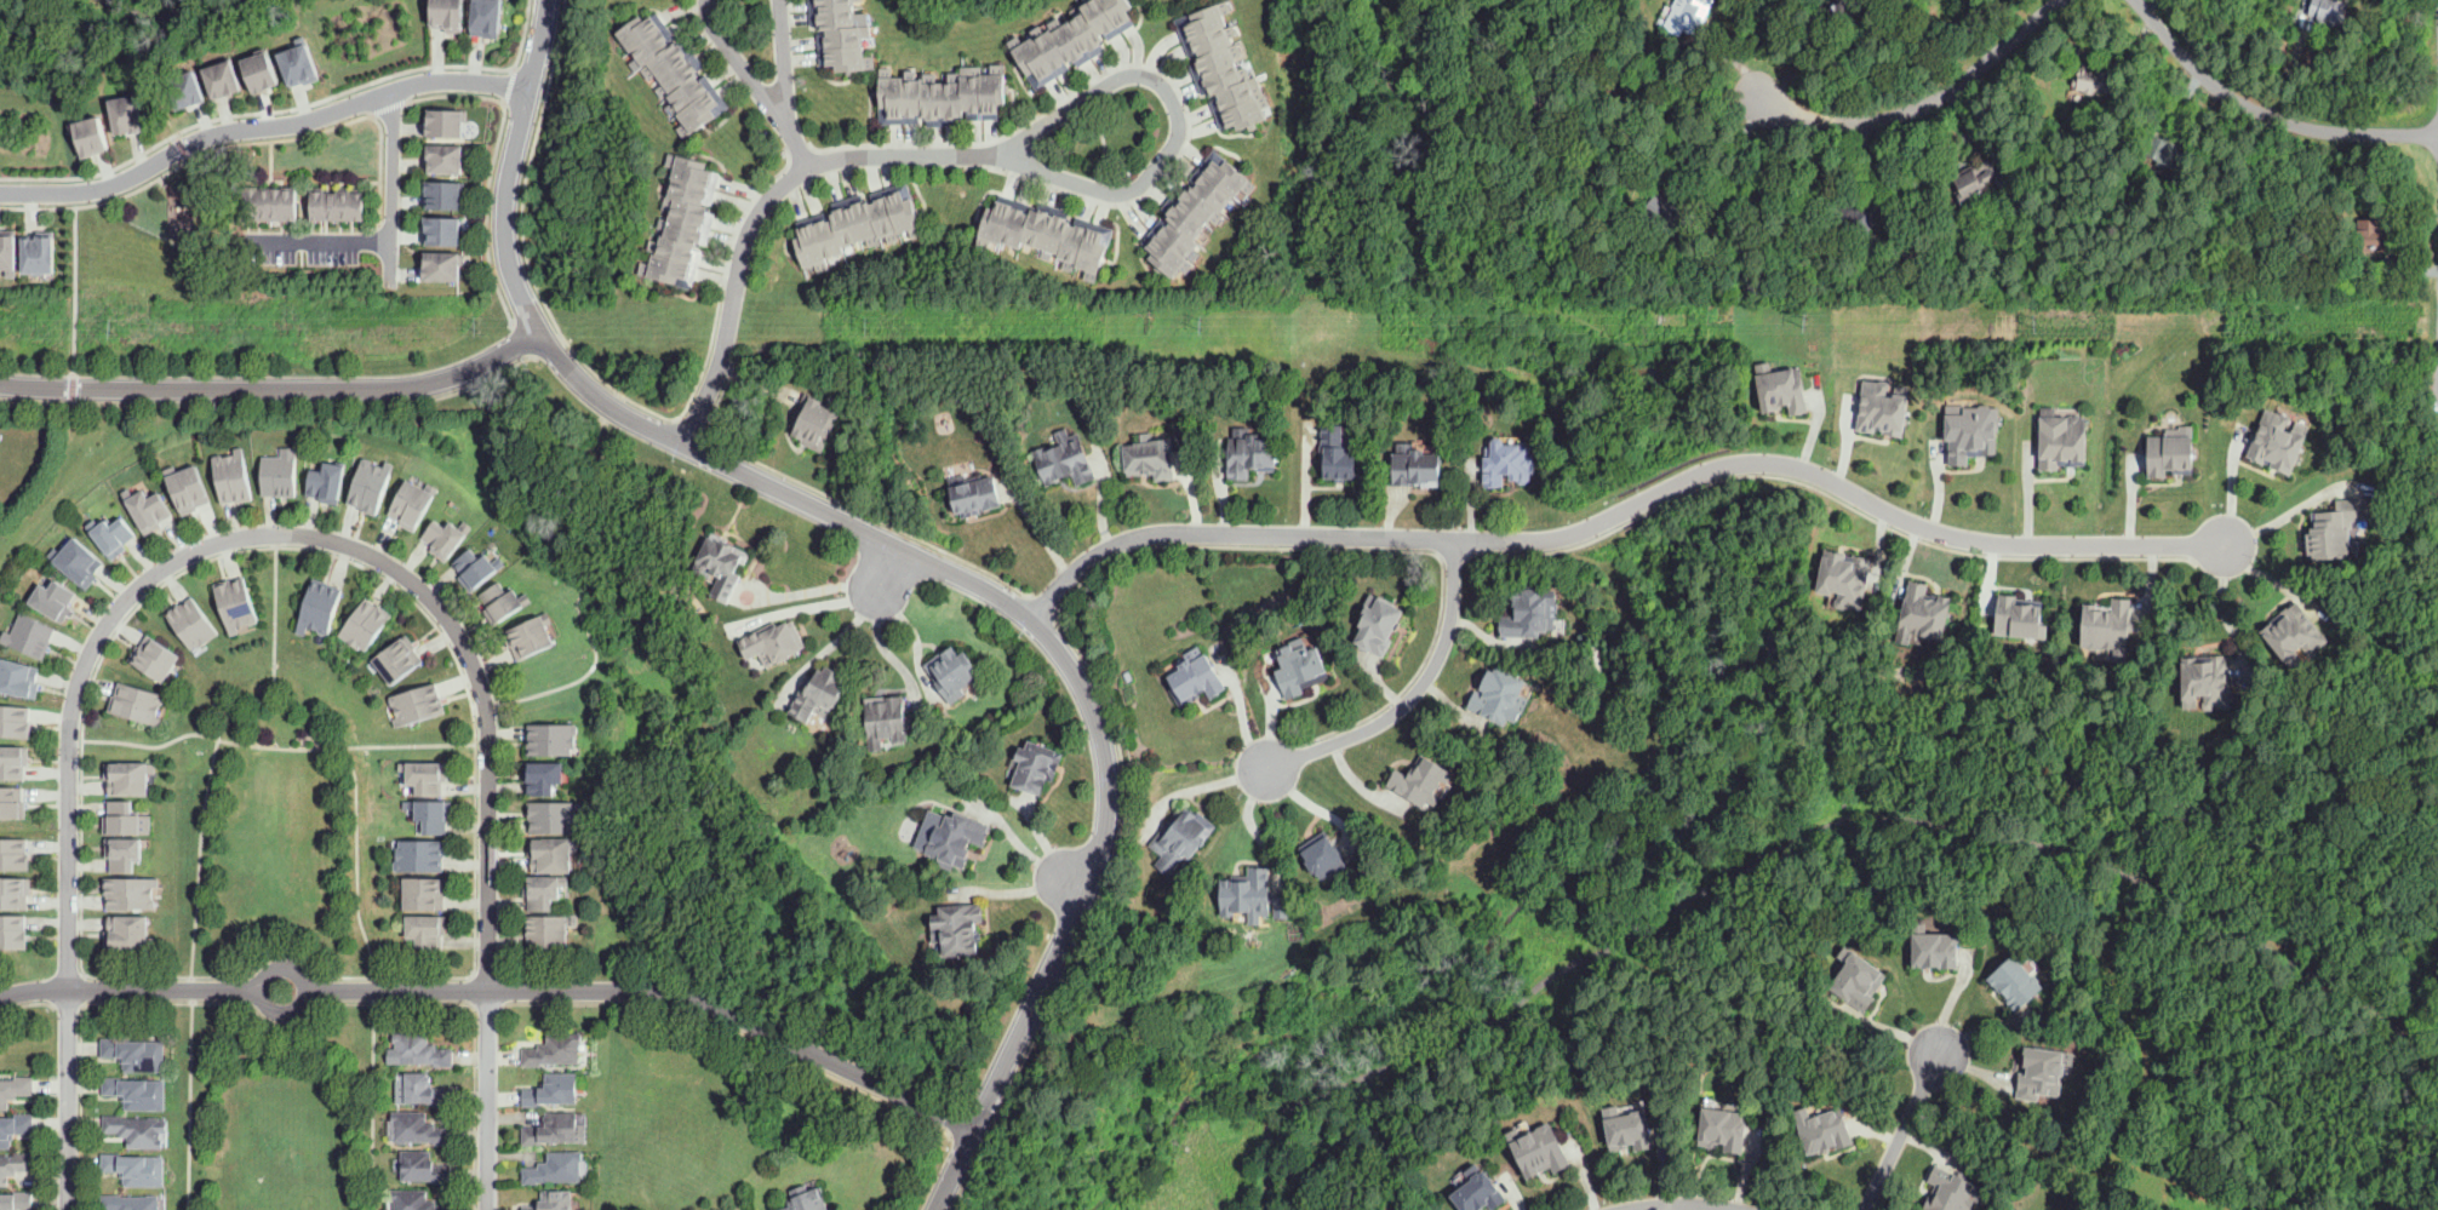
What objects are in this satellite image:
building: (1803, 2)
building: (837, 5)
building: (1845, 10)
building: (1123, 11)
building: (2329, 11)
building: (448, 15)
building: (1105, 15)
road: (149, 16)
building: (1688, 16)
road: (13, 17)
building: (493, 17)
building: (840, 21)
building: (1091, 28)
building: (1072, 36)
building: (1962, 36)
building: (635, 38)
building: (849, 38)
building: (1053, 44)
building: (647, 52)
building: (1036, 53)
building: (851, 56)
building: (666, 63)
building: (299, 67)
building: (1231, 70)
building: (269, 73)
building: (847, 74)
building: (677, 78)
building: (2093, 79)
building: (223, 80)
building: (975, 87)
building: (996, 87)
building: (893, 90)
building: (914, 90)
road: (158, 91)
building: (934, 93)
building: (955, 93)
building: (688, 94)
road: (1924, 104)
road: (773, 105)
building: (700, 110)
road: (2265, 114)
building: (128, 116)
road: (1177, 119)
building: (442, 121)
road: (262, 126)
building: (92, 137)
road: (1103, 141)
road: (795, 142)
building: (2163, 150)
building: (441, 157)
road: (1741, 162)
building: (693, 171)
building: (1219, 178)
building: (1984, 179)
road: (391, 187)
building: (689, 189)
building: (437, 193)
building: (1204, 193)
road: (762, 201)
building: (1189, 203)
building: (344, 206)
building: (691, 208)
building: (984, 216)
building: (1175, 217)
building: (1666, 217)
building: (1005, 219)
building: (1850, 219)
building: (1026, 220)
building: (868, 222)
building: (686, 225)
building: (1046, 226)
building: (439, 230)
building: (1064, 235)
building: (1168, 235)
building: (2369, 236)
road: (320, 240)
road: (523, 241)
building: (1086, 241)
building: (677, 242)
building: (1156, 248)
building: (12, 250)
road: (1538, 252)
building: (39, 253)
building: (670, 262)
building: (441, 266)
building: (2299, 269)
road: (725, 276)
road: (76, 296)
building: (1787, 372)
road: (275, 388)
building: (1772, 388)
building: (1885, 394)
road: (723, 395)
road: (280, 405)
building: (1870, 407)
building: (814, 423)
road: (691, 425)
building: (1974, 431)
building: (2066, 435)
building: (2277, 438)
building: (1338, 453)
building: (2170, 453)
building: (1251, 454)
building: (1151, 458)
building: (1065, 460)
building: (1509, 463)
building: (1415, 466)
building: (229, 477)
building: (277, 480)
building: (331, 481)
building: (184, 492)
building: (367, 494)
building: (975, 495)
building: (416, 503)
road: (1618, 510)
building: (147, 511)
road: (1638, 517)
road: (2274, 523)
road: (891, 526)
building: (2340, 527)
road: (279, 532)
building: (111, 535)
building: (448, 537)
road: (250, 547)
road: (915, 551)
building: (85, 560)
road: (891, 566)
building: (722, 567)
building: (1849, 567)
building: (476, 568)
building: (1830, 577)
road: (586, 589)
road: (819, 589)
building: (55, 603)
building: (503, 603)
road: (819, 603)
building: (1929, 604)
building: (235, 606)
building: (321, 609)
building: (2022, 612)
building: (1532, 613)
road: (273, 615)
building: (2110, 624)
building: (366, 625)
building: (1378, 625)
building: (193, 627)
building: (35, 633)
building: (2296, 633)
road: (841, 635)
building: (530, 636)
building: (774, 642)
road: (883, 644)
building: (155, 661)
building: (397, 663)
building: (1300, 669)
building: (949, 671)
building: (1128, 675)
building: (1194, 677)
building: (17, 679)
building: (2210, 682)
road: (1404, 687)
road: (1412, 689)
building: (819, 694)
building: (1500, 696)
road: (274, 700)
building: (419, 703)
building: (138, 704)
building: (887, 721)
building: (13, 724)
building: (553, 739)
road: (275, 749)
road: (1940, 757)
building: (10, 764)
building: (1036, 767)
building: (543, 775)
building: (427, 776)
building: (130, 780)
building: (1421, 781)
building: (10, 805)
building: (435, 816)
building: (120, 818)
building: (554, 819)
road: (1248, 819)
building: (1180, 830)
building: (956, 838)
road: (1796, 838)
road: (1047, 844)
road: (1024, 848)
building: (125, 853)
building: (13, 855)
building: (420, 856)
building: (551, 856)
building: (1323, 856)
road: (1104, 883)
road: (1019, 889)
building: (543, 891)
building: (425, 893)
building: (1246, 893)
building: (130, 894)
building: (15, 895)
building: (1283, 906)
building: (960, 928)
building: (427, 930)
building: (11, 933)
building: (546, 933)
building: (130, 934)
building: (1935, 950)
road: (285, 952)
building: (1859, 980)
building: (2016, 980)
road: (130, 988)
road: (654, 988)
road: (261, 990)
road: (27, 1004)
road: (270, 1022)
road: (744, 1033)
building: (420, 1050)
building: (555, 1051)
building: (136, 1054)
road: (2427, 1067)
building: (2043, 1073)
building: (424, 1089)
building: (15, 1090)
building: (551, 1090)
building: (133, 1093)
road: (67, 1097)
road: (486, 1099)
road: (475, 1106)
road: (82, 1111)
building: (15, 1128)
building: (419, 1129)
building: (553, 1129)
building: (136, 1130)
building: (1629, 1130)
building: (1723, 1130)
building: (1824, 1130)
road: (1901, 1132)
building: (932, 1140)
building: (1539, 1151)
building: (15, 1166)
building: (423, 1168)
building: (555, 1169)
building: (137, 1170)
road: (965, 1180)
building: (1480, 1192)
building: (1951, 1192)
building: (807, 1199)
building: (416, 1200)
building: (17, 1202)
building: (553, 1202)
building: (130, 1203)
road: (1673, 1203)

